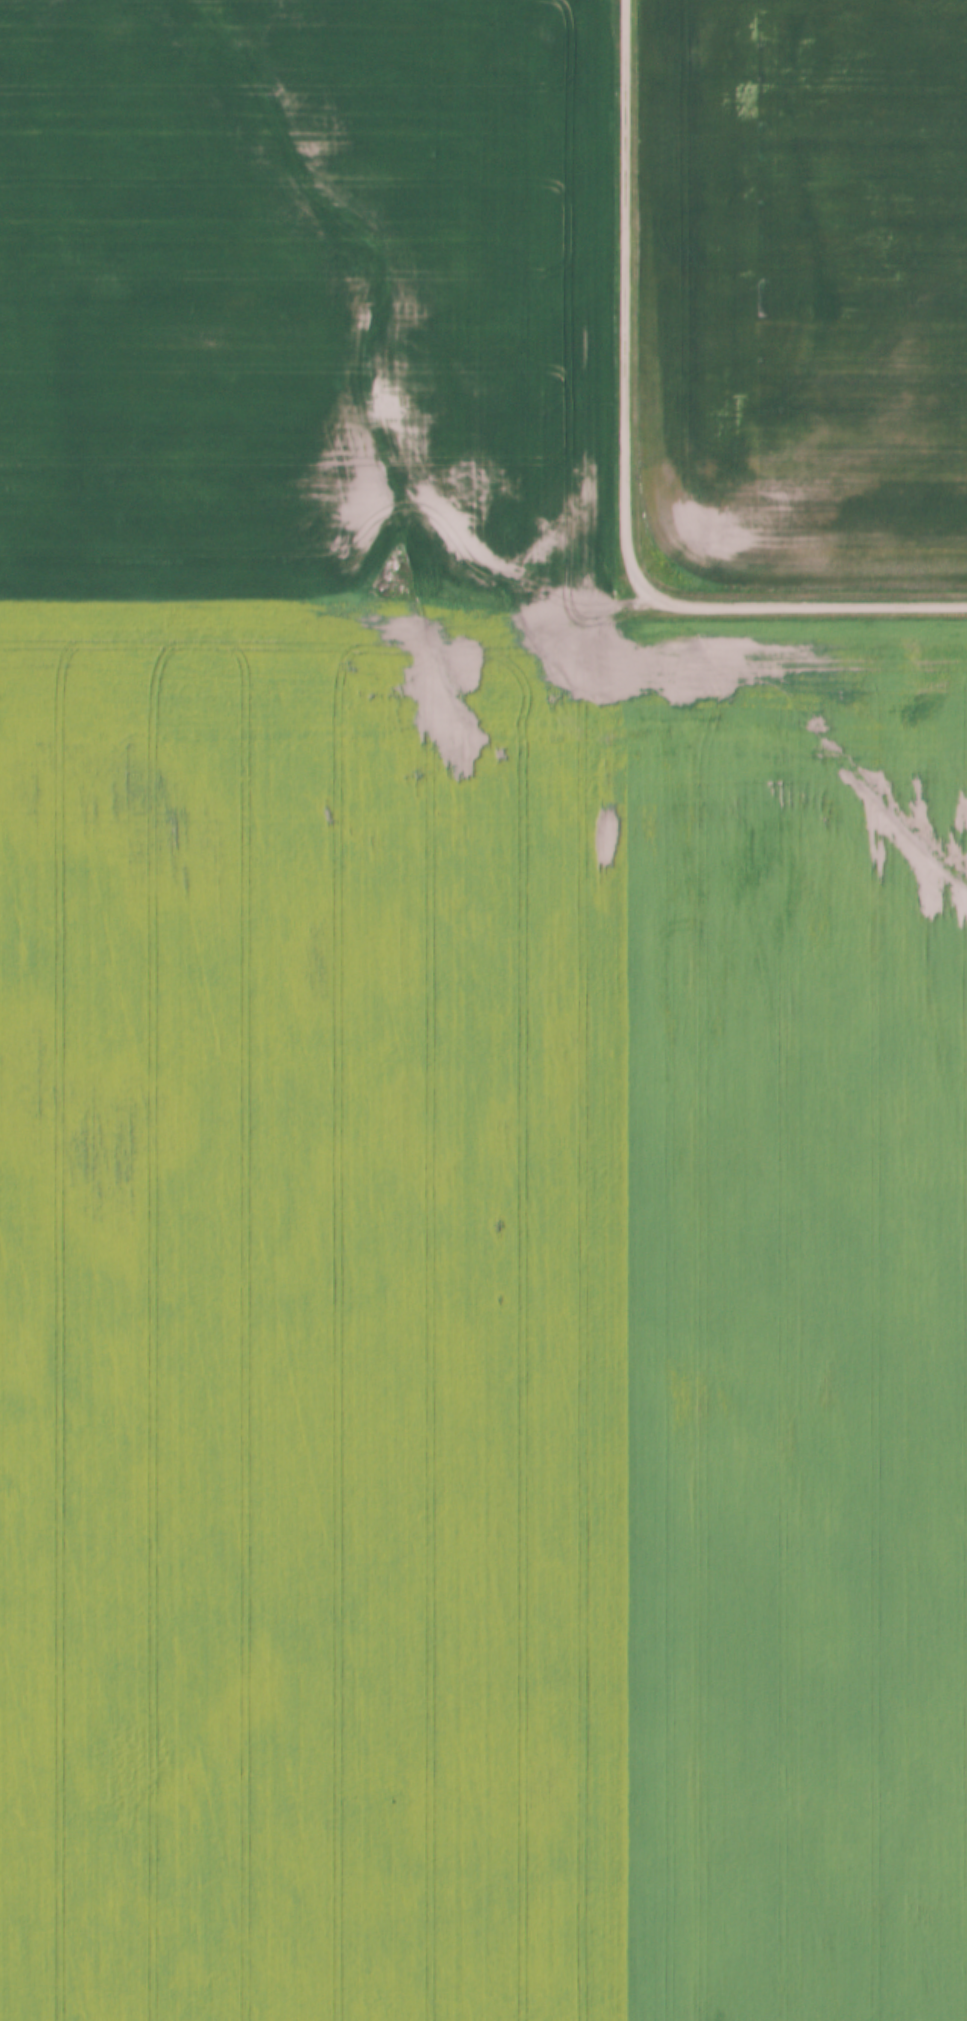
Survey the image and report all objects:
road: (626, 461)

